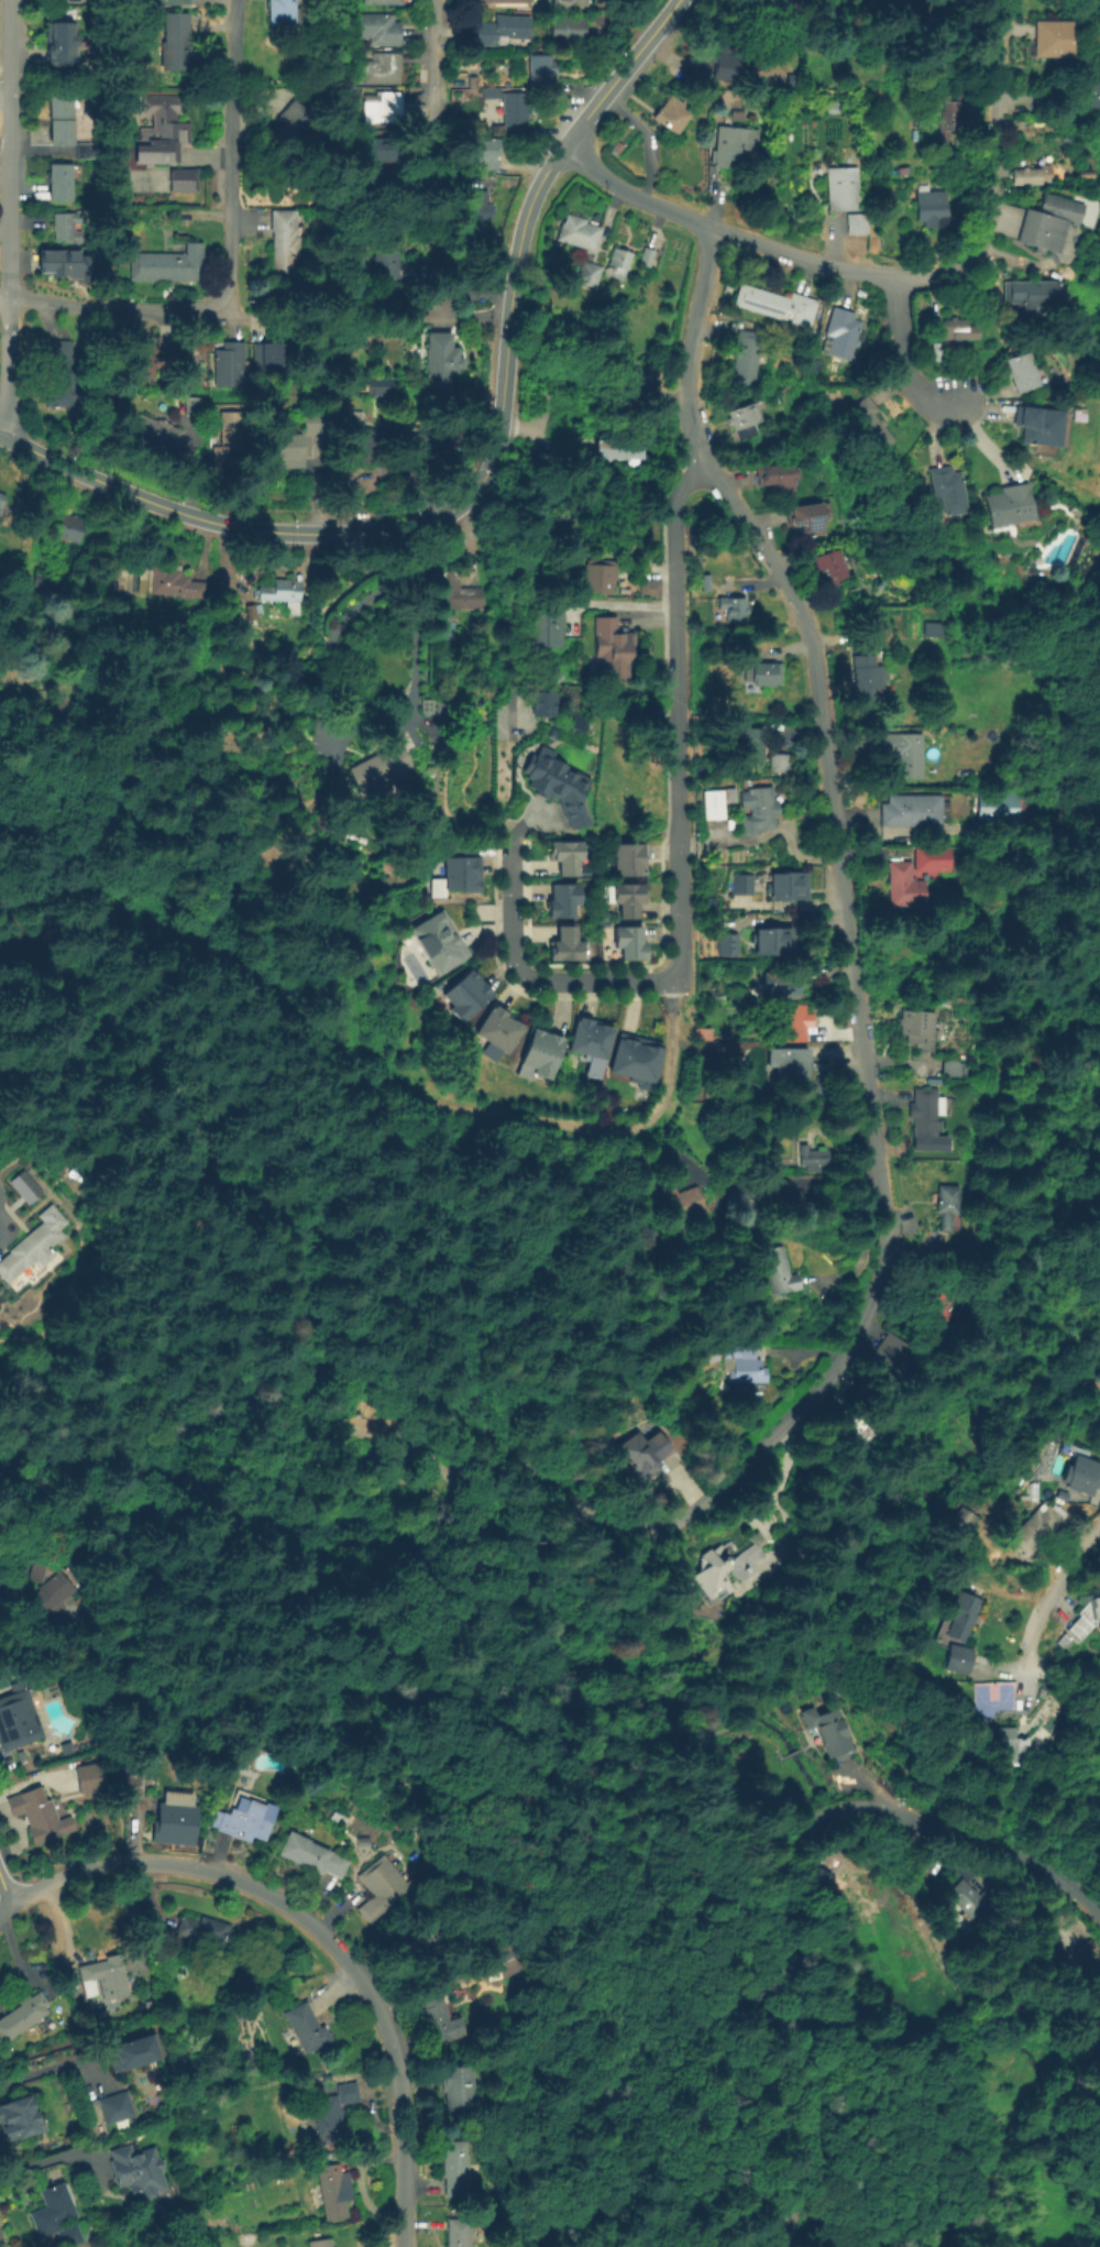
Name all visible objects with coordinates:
building: (499, 0)
building: (165, 1)
building: (383, 1)
building: (565, 3)
building: (280, 11)
building: (778, 19)
building: (376, 28)
building: (502, 28)
building: (568, 28)
building: (1053, 33)
building: (174, 40)
building: (59, 44)
building: (719, 62)
road: (433, 63)
building: (384, 69)
building: (539, 69)
building: (353, 90)
building: (1082, 92)
road: (4, 97)
building: (385, 107)
building: (513, 111)
building: (950, 112)
building: (671, 113)
building: (61, 118)
building: (296, 123)
building: (161, 130)
building: (734, 141)
building: (381, 147)
building: (87, 149)
road: (230, 150)
building: (481, 150)
building: (1032, 171)
building: (183, 179)
building: (59, 180)
building: (376, 187)
building: (846, 193)
building: (928, 205)
building: (488, 210)
road: (8, 212)
building: (473, 215)
building: (1049, 220)
building: (854, 221)
building: (68, 229)
building: (579, 232)
building: (283, 241)
building: (647, 256)
building: (385, 262)
building: (619, 262)
building: (167, 263)
building: (61, 266)
building: (588, 274)
road: (884, 276)
building: (1021, 296)
road: (3, 297)
building: (777, 303)
road: (116, 311)
road: (463, 314)
building: (957, 329)
building: (840, 331)
building: (936, 350)
road: (900, 353)
building: (142, 354)
building: (274, 354)
building: (745, 355)
building: (440, 360)
building: (229, 362)
building: (1020, 368)
building: (62, 374)
building: (637, 377)
building: (378, 384)
building: (191, 405)
building: (744, 417)
building: (315, 420)
building: (869, 423)
building: (1042, 425)
building: (156, 431)
building: (229, 436)
building: (358, 440)
building: (421, 442)
building: (605, 445)
building: (286, 449)
building: (630, 451)
road: (483, 469)
building: (777, 473)
building: (947, 485)
building: (19, 503)
building: (1008, 503)
building: (807, 514)
building: (69, 531)
building: (829, 562)
building: (598, 577)
building: (41, 579)
building: (157, 579)
building: (650, 587)
building: (453, 591)
building: (282, 592)
road: (616, 603)
building: (732, 606)
building: (250, 610)
building: (549, 631)
building: (613, 649)
building: (765, 671)
building: (869, 672)
building: (541, 704)
road: (676, 724)
building: (750, 738)
road: (366, 742)
building: (904, 752)
building: (780, 761)
building: (378, 764)
building: (557, 787)
building: (716, 801)
building: (1000, 804)
building: (912, 809)
building: (758, 810)
building: (932, 858)
building: (566, 861)
building: (627, 861)
building: (461, 876)
building: (903, 884)
building: (744, 886)
building: (787, 889)
building: (629, 901)
building: (562, 902)
building: (767, 944)
building: (439, 945)
building: (726, 945)
building: (630, 946)
building: (565, 950)
road: (29, 964)
road: (41, 965)
road: (9, 973)
road: (525, 975)
building: (781, 987)
road: (672, 996)
building: (465, 998)
building: (939, 1000)
building: (795, 1022)
road: (855, 1027)
building: (921, 1027)
building: (497, 1034)
building: (591, 1044)
building: (542, 1057)
building: (795, 1059)
building: (635, 1062)
building: (944, 1065)
road: (301, 1088)
road: (405, 1098)
building: (925, 1111)
road: (222, 1144)
building: (814, 1157)
building: (22, 1185)
building: (680, 1202)
building: (947, 1203)
building: (956, 1220)
building: (32, 1245)
road: (187, 1253)
building: (779, 1270)
road: (498, 1301)
building: (937, 1303)
building: (891, 1353)
building: (745, 1367)
road: (319, 1380)
road: (273, 1393)
road: (422, 1399)
road: (224, 1400)
building: (857, 1424)
building: (1099, 1425)
road: (205, 1436)
road: (402, 1443)
building: (645, 1455)
building: (1081, 1481)
road: (473, 1513)
road: (544, 1513)
building: (963, 1519)
building: (1036, 1528)
road: (460, 1534)
building: (723, 1568)
road: (268, 1579)
building: (43, 1588)
road: (210, 1593)
road: (1049, 1598)
building: (963, 1614)
building: (1086, 1615)
road: (224, 1630)
building: (1065, 1640)
building: (958, 1657)
road: (1018, 1696)
building: (18, 1720)
building: (826, 1730)
building: (1014, 1749)
road: (114, 1763)
building: (87, 1776)
building: (132, 1779)
road: (700, 1804)
building: (176, 1815)
building: (38, 1816)
building: (244, 1818)
road: (805, 1830)
building: (311, 1853)
building: (826, 1872)
road: (1065, 1879)
building: (381, 1888)
road: (4, 1892)
road: (700, 1893)
building: (966, 1897)
road: (315, 1928)
building: (205, 1931)
building: (436, 1932)
building: (514, 1954)
building: (1071, 1965)
building: (103, 1976)
building: (22, 2015)
building: (440, 2018)
building: (306, 2027)
building: (1096, 2043)
building: (135, 2051)
road: (51, 2065)
building: (459, 2086)
building: (118, 2106)
building: (333, 2112)
building: (16, 2118)
road: (818, 2149)
road: (52, 2156)
building: (458, 2167)
building: (137, 2171)
building: (334, 2190)
building: (56, 2214)
building: (459, 2232)
building: (319, 2243)

